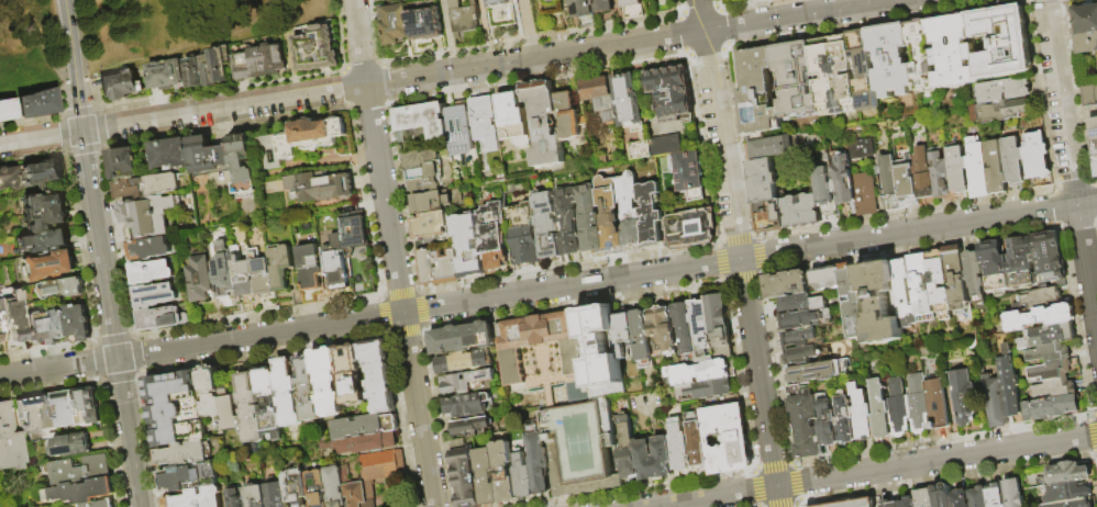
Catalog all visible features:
building: (552, 1)
building: (498, 3)
building: (606, 5)
building: (664, 7)
building: (632, 10)
building: (585, 12)
building: (465, 18)
road: (67, 23)
building: (396, 25)
building: (426, 25)
road: (531, 29)
building: (1086, 30)
park: (126, 34)
road: (448, 35)
road: (359, 43)
road: (40, 44)
building: (1004, 44)
building: (318, 50)
building: (953, 53)
building: (228, 56)
building: (891, 60)
building: (922, 60)
building: (259, 65)
building: (215, 69)
road: (450, 71)
building: (864, 72)
building: (196, 74)
building: (166, 76)
building: (835, 77)
building: (667, 80)
building: (797, 82)
building: (119, 86)
road: (76, 89)
building: (1002, 91)
building: (758, 95)
building: (1090, 98)
building: (601, 99)
building: (33, 102)
building: (630, 103)
building: (676, 108)
building: (5, 109)
building: (1000, 112)
building: (1092, 112)
building: (568, 116)
road: (42, 117)
building: (513, 117)
building: (423, 122)
building: (486, 123)
building: (545, 124)
building: (461, 131)
building: (1093, 131)
building: (319, 134)
road: (100, 146)
building: (666, 147)
building: (289, 148)
building: (638, 149)
building: (772, 149)
building: (1094, 149)
building: (860, 150)
building: (274, 153)
building: (211, 155)
building: (171, 156)
road: (32, 158)
building: (1037, 158)
building: (423, 160)
building: (1012, 161)
building: (124, 162)
building: (246, 165)
road: (1071, 165)
building: (1096, 166)
building: (996, 168)
building: (978, 170)
building: (959, 171)
building: (42, 173)
building: (423, 173)
building: (688, 174)
building: (923, 176)
building: (941, 176)
building: (9, 179)
building: (842, 181)
building: (906, 183)
building: (165, 184)
building: (889, 184)
building: (425, 187)
building: (321, 189)
building: (823, 189)
building: (130, 191)
building: (865, 195)
building: (766, 198)
building: (431, 203)
building: (629, 211)
building: (801, 212)
building: (165, 213)
building: (608, 213)
building: (60, 214)
building: (651, 215)
building: (141, 218)
building: (589, 218)
building: (567, 222)
building: (432, 226)
building: (546, 226)
building: (691, 229)
building: (355, 235)
building: (492, 235)
building: (523, 235)
building: (44, 243)
road: (99, 245)
building: (468, 246)
building: (149, 250)
road: (739, 252)
building: (1050, 259)
building: (336, 263)
building: (1022, 263)
building: (47, 267)
building: (282, 267)
building: (428, 268)
building: (447, 268)
building: (996, 268)
building: (311, 269)
building: (153, 273)
building: (229, 274)
building: (247, 274)
building: (265, 274)
building: (206, 280)
road: (607, 280)
building: (827, 280)
building: (976, 280)
building: (787, 285)
building: (940, 285)
building: (959, 285)
building: (365, 286)
building: (59, 290)
building: (923, 290)
building: (156, 296)
road: (400, 296)
building: (905, 296)
building: (1037, 300)
building: (854, 303)
building: (880, 303)
building: (804, 305)
building: (12, 314)
building: (1040, 319)
building: (163, 320)
building: (807, 322)
building: (77, 324)
building: (720, 326)
building: (34, 327)
building: (686, 328)
building: (55, 329)
building: (664, 329)
building: (2, 331)
building: (702, 333)
building: (624, 334)
building: (1049, 337)
building: (463, 339)
building: (800, 339)
building: (643, 340)
building: (541, 343)
building: (601, 353)
building: (1049, 354)
building: (800, 357)
building: (465, 362)
road: (58, 368)
building: (1051, 372)
building: (699, 373)
building: (816, 373)
building: (352, 375)
building: (378, 376)
building: (329, 382)
building: (467, 383)
building: (1010, 387)
building: (309, 390)
building: (1055, 390)
building: (707, 391)
building: (289, 394)
building: (964, 398)
building: (222, 402)
building: (273, 403)
building: (995, 404)
building: (918, 405)
building: (938, 405)
building: (468, 406)
building: (89, 407)
building: (176, 408)
building: (899, 408)
building: (1056, 408)
building: (68, 409)
building: (253, 409)
building: (879, 410)
building: (1029, 413)
building: (862, 415)
building: (48, 416)
building: (552, 416)
building: (844, 418)
building: (27, 419)
building: (606, 422)
building: (827, 422)
building: (805, 424)
building: (365, 427)
building: (473, 428)
road: (130, 432)
park: (581, 437)
building: (728, 440)
building: (9, 443)
building: (366, 444)
building: (696, 444)
building: (74, 446)
building: (679, 447)
building: (627, 450)
building: (186, 454)
building: (654, 459)
building: (539, 464)
building: (383, 466)
building: (80, 471)
road: (873, 471)
building: (503, 473)
building: (1070, 474)
building: (190, 477)
building: (465, 477)
building: (487, 477)
building: (522, 477)
building: (298, 487)
building: (336, 487)
building: (319, 488)
building: (1071, 492)
building: (82, 493)
building: (1015, 494)
building: (279, 495)
building: (362, 495)
building: (943, 496)
building: (996, 496)
building: (259, 497)
building: (979, 497)
building: (200, 498)
building: (926, 498)
building: (240, 499)
building: (961, 499)
building: (909, 503)
building: (107, 504)
building: (856, 504)
building: (1075, 504)
building: (890, 505)
building: (89, 506)

